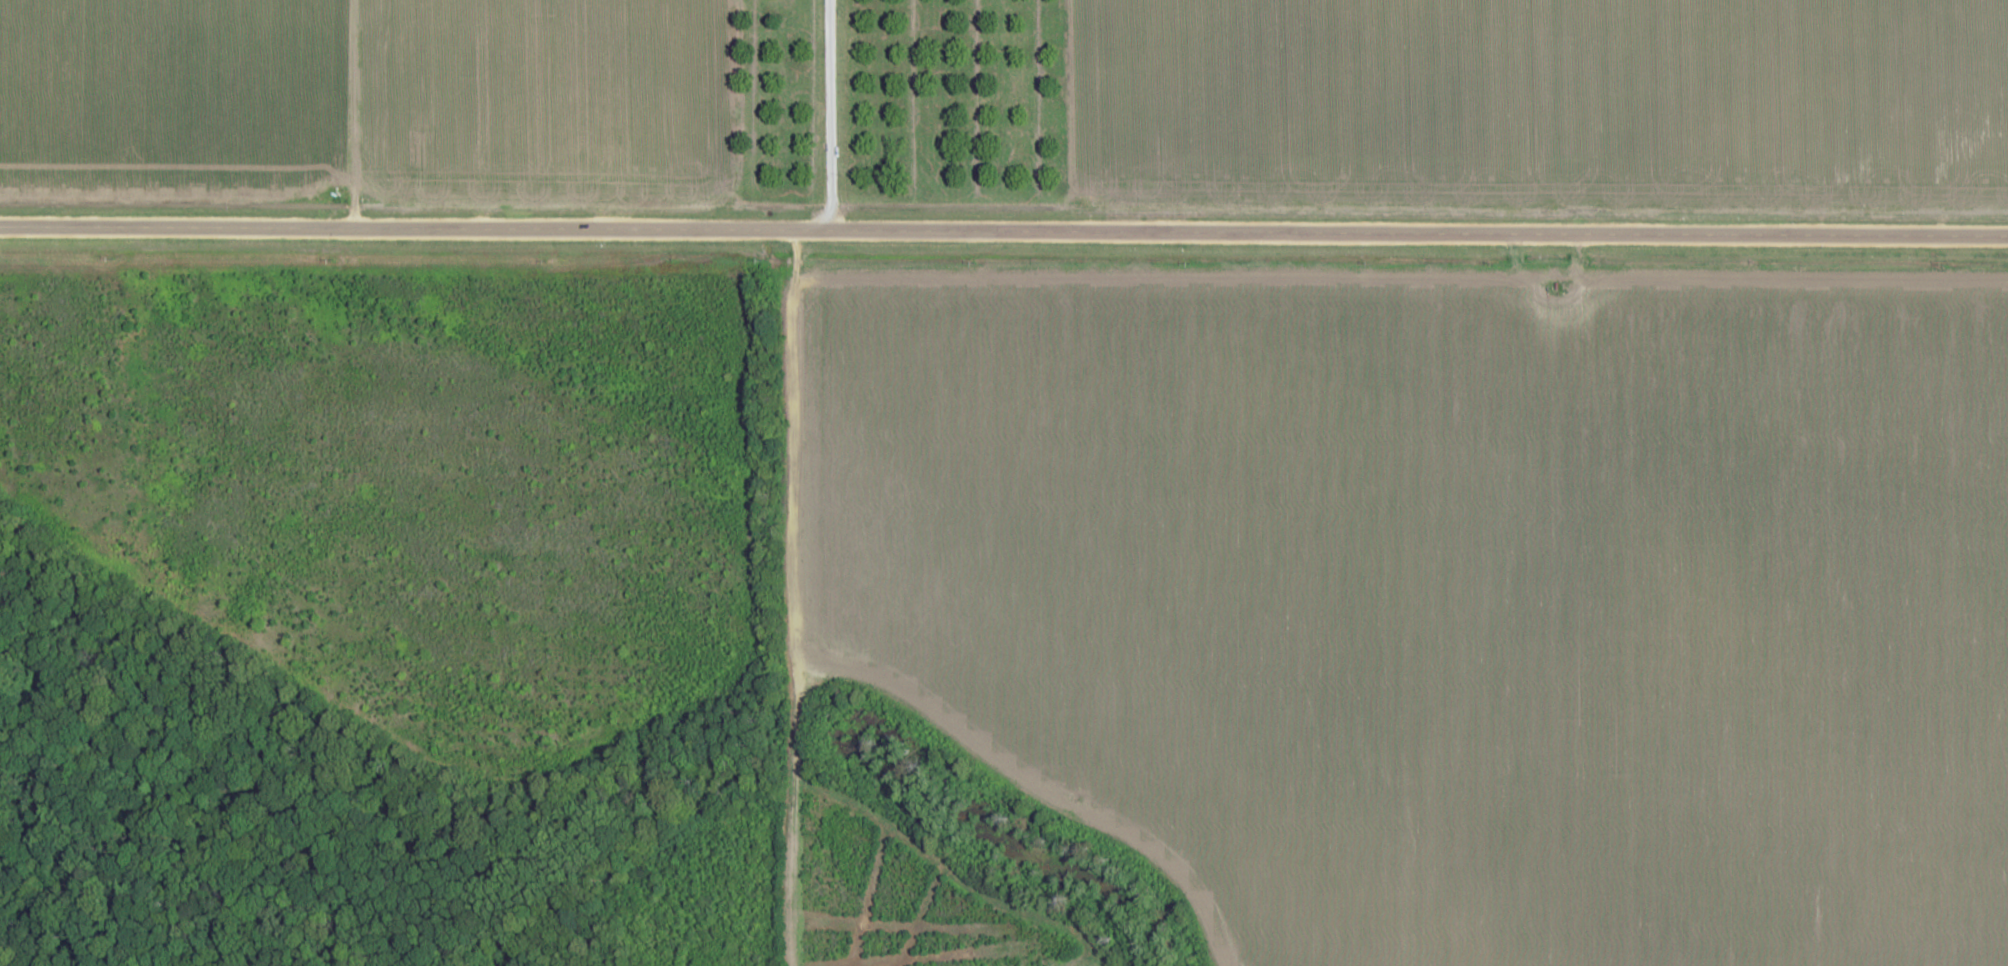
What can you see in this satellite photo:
road: (830, 115)
road: (1003, 231)
road: (781, 598)

